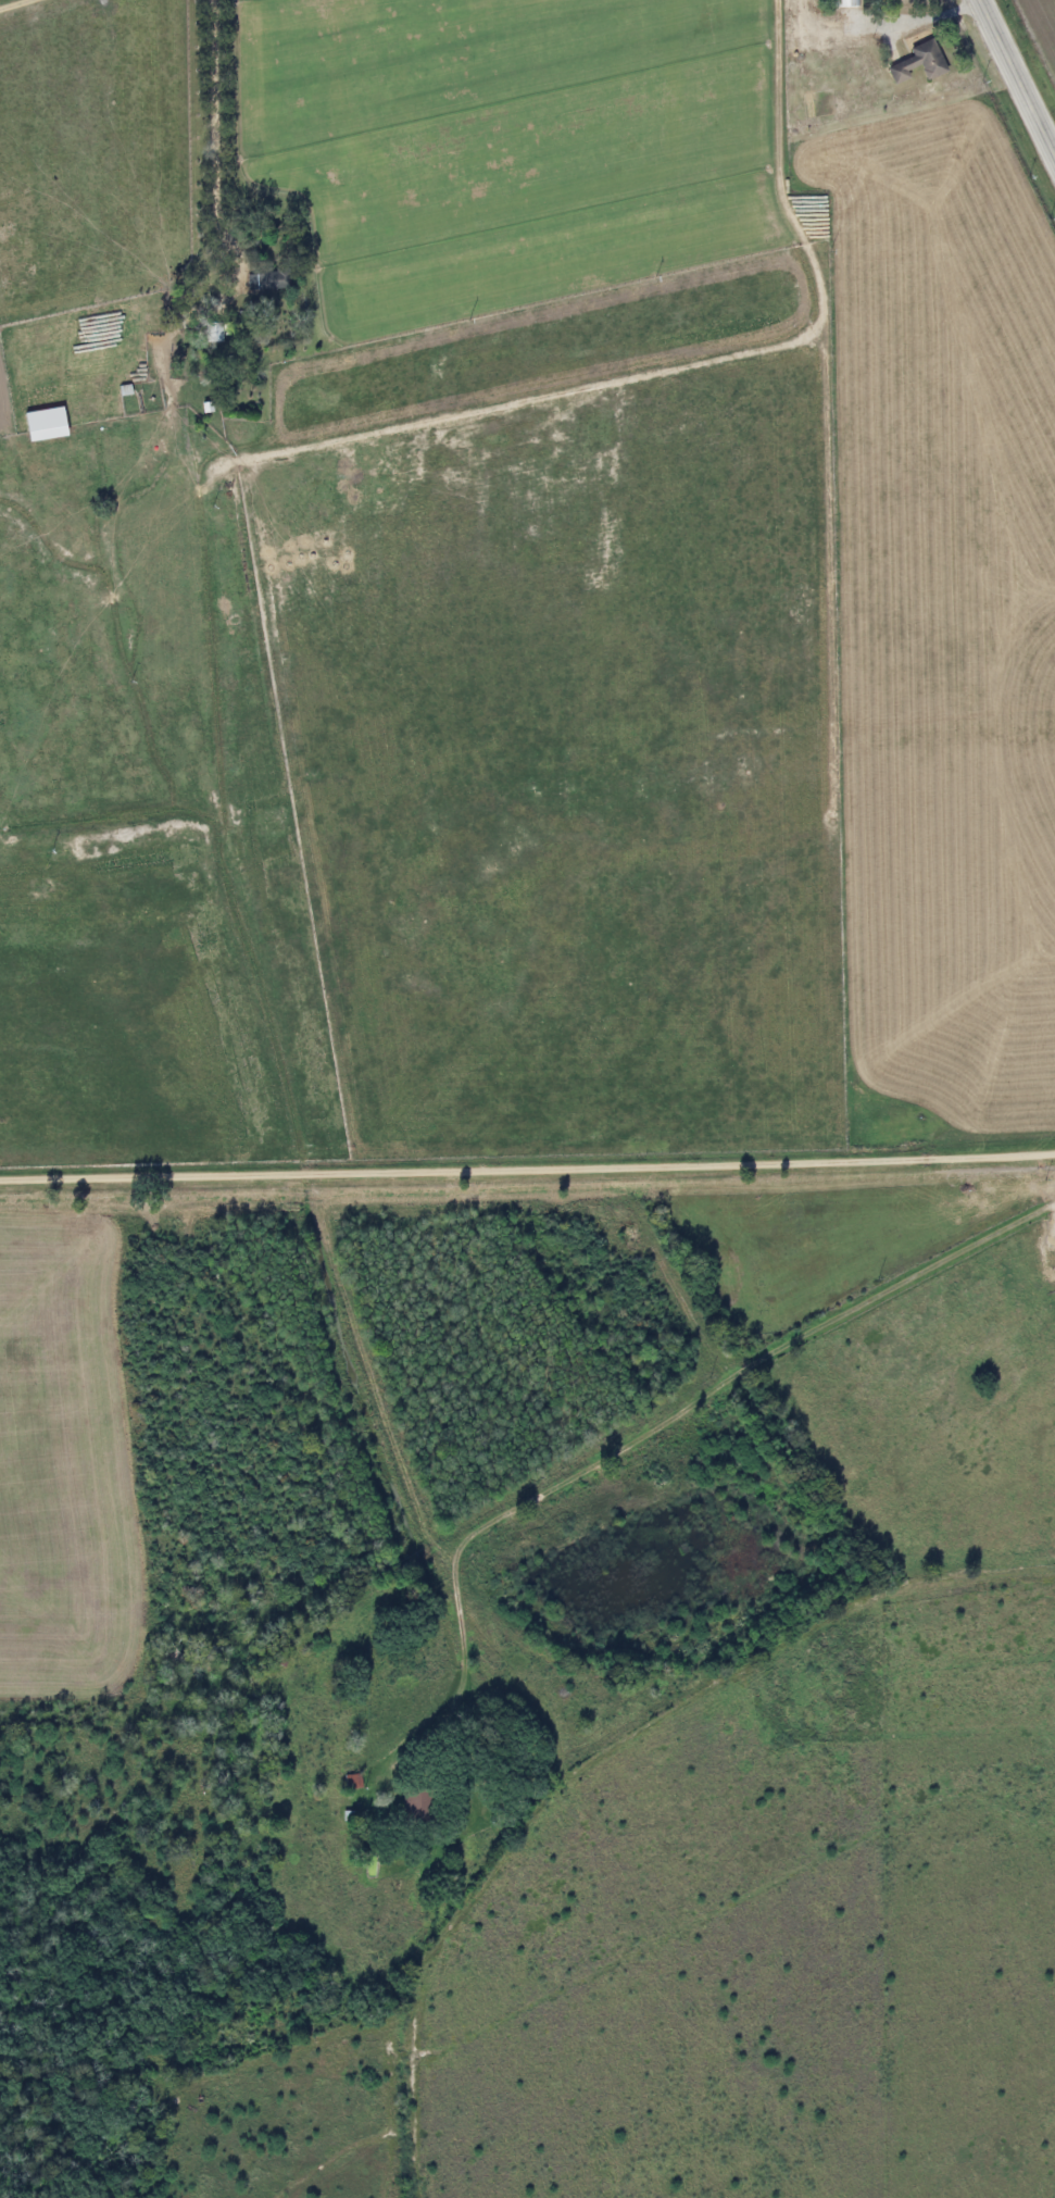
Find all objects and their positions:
building: (843, 3)
road: (16, 4)
road: (920, 22)
building: (916, 63)
road: (1018, 76)
road: (213, 130)
building: (265, 282)
building: (210, 285)
building: (149, 320)
road: (527, 1166)
building: (410, 1806)

